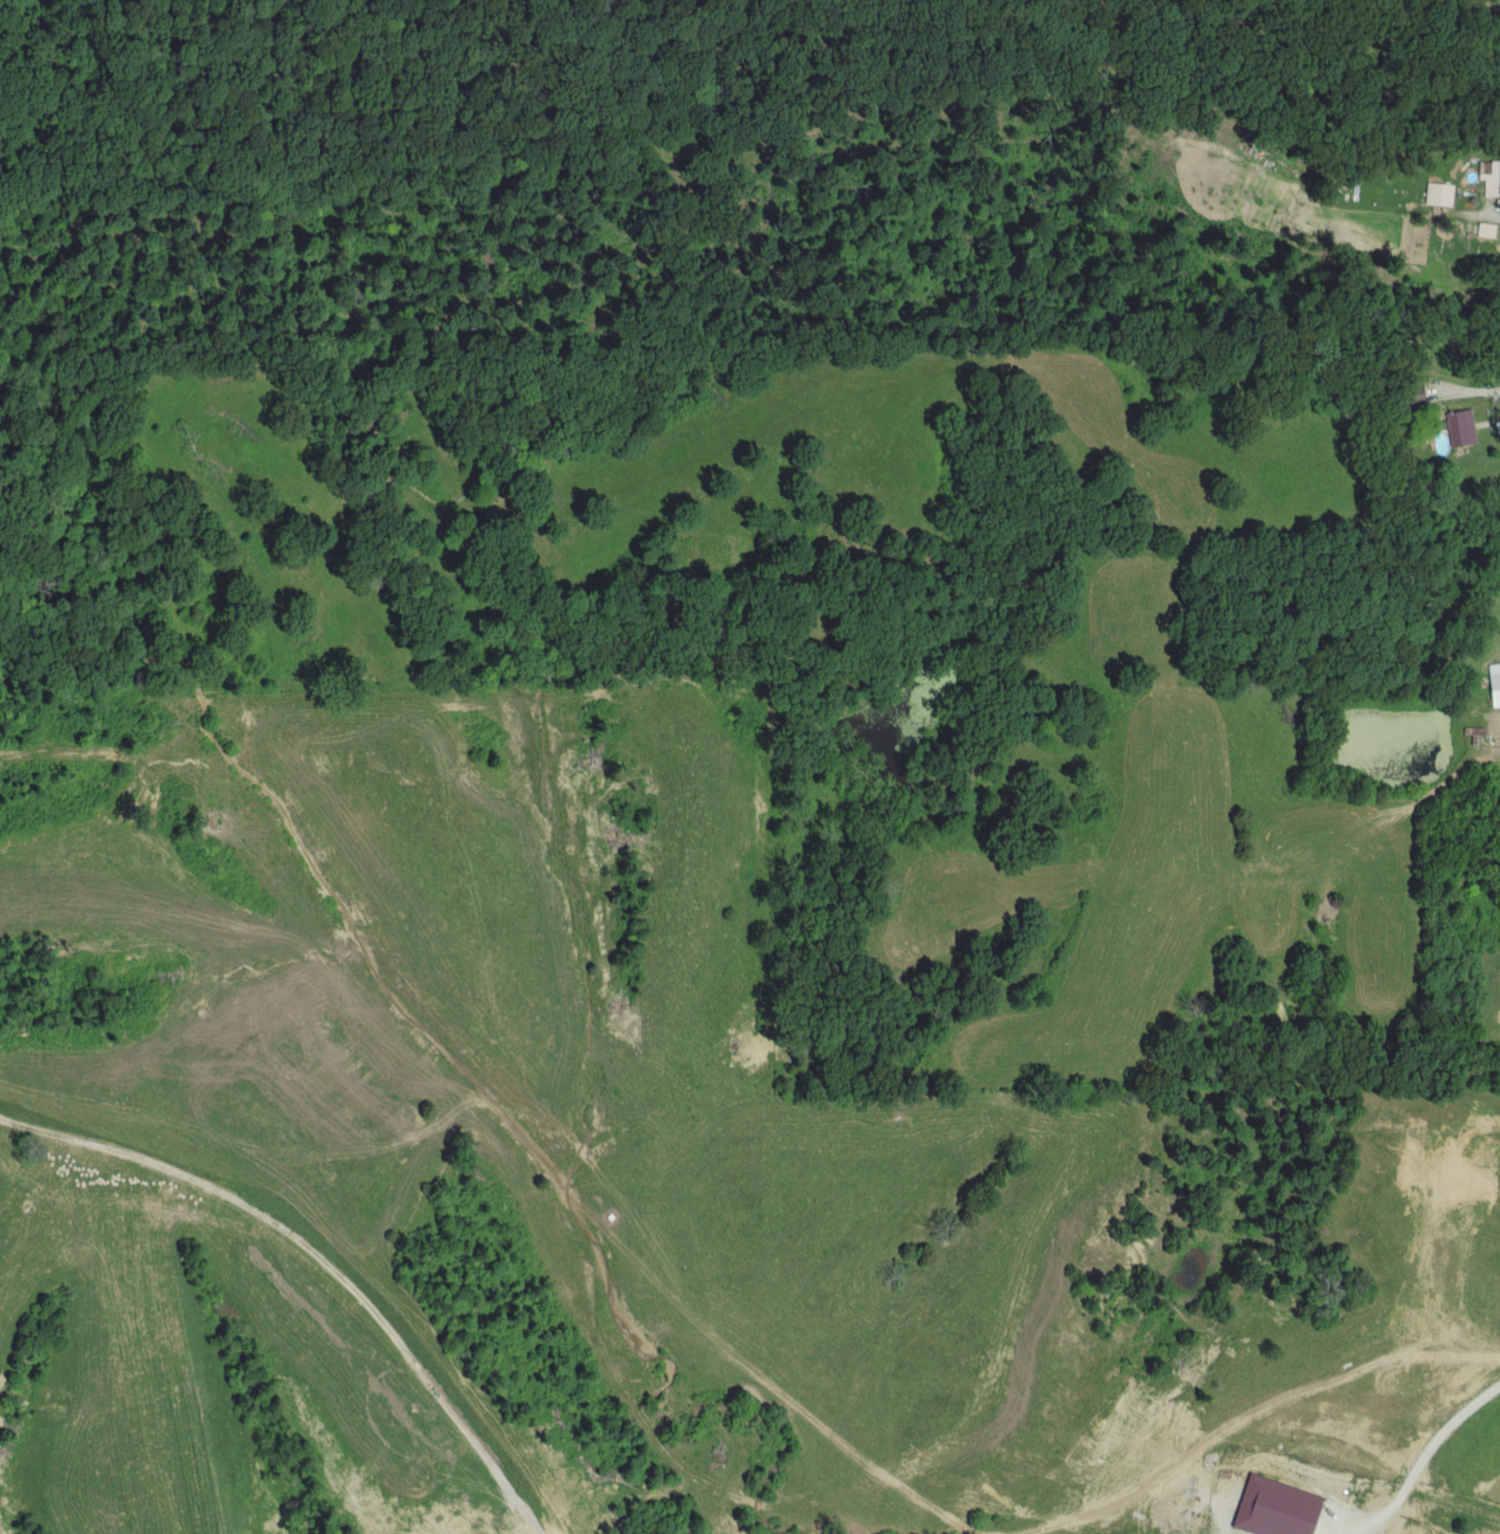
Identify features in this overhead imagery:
building: (1491, 179)
building: (1436, 194)
building: (1411, 395)
road: (1479, 401)
building: (1457, 428)
building: (1492, 685)
building: (1499, 783)

